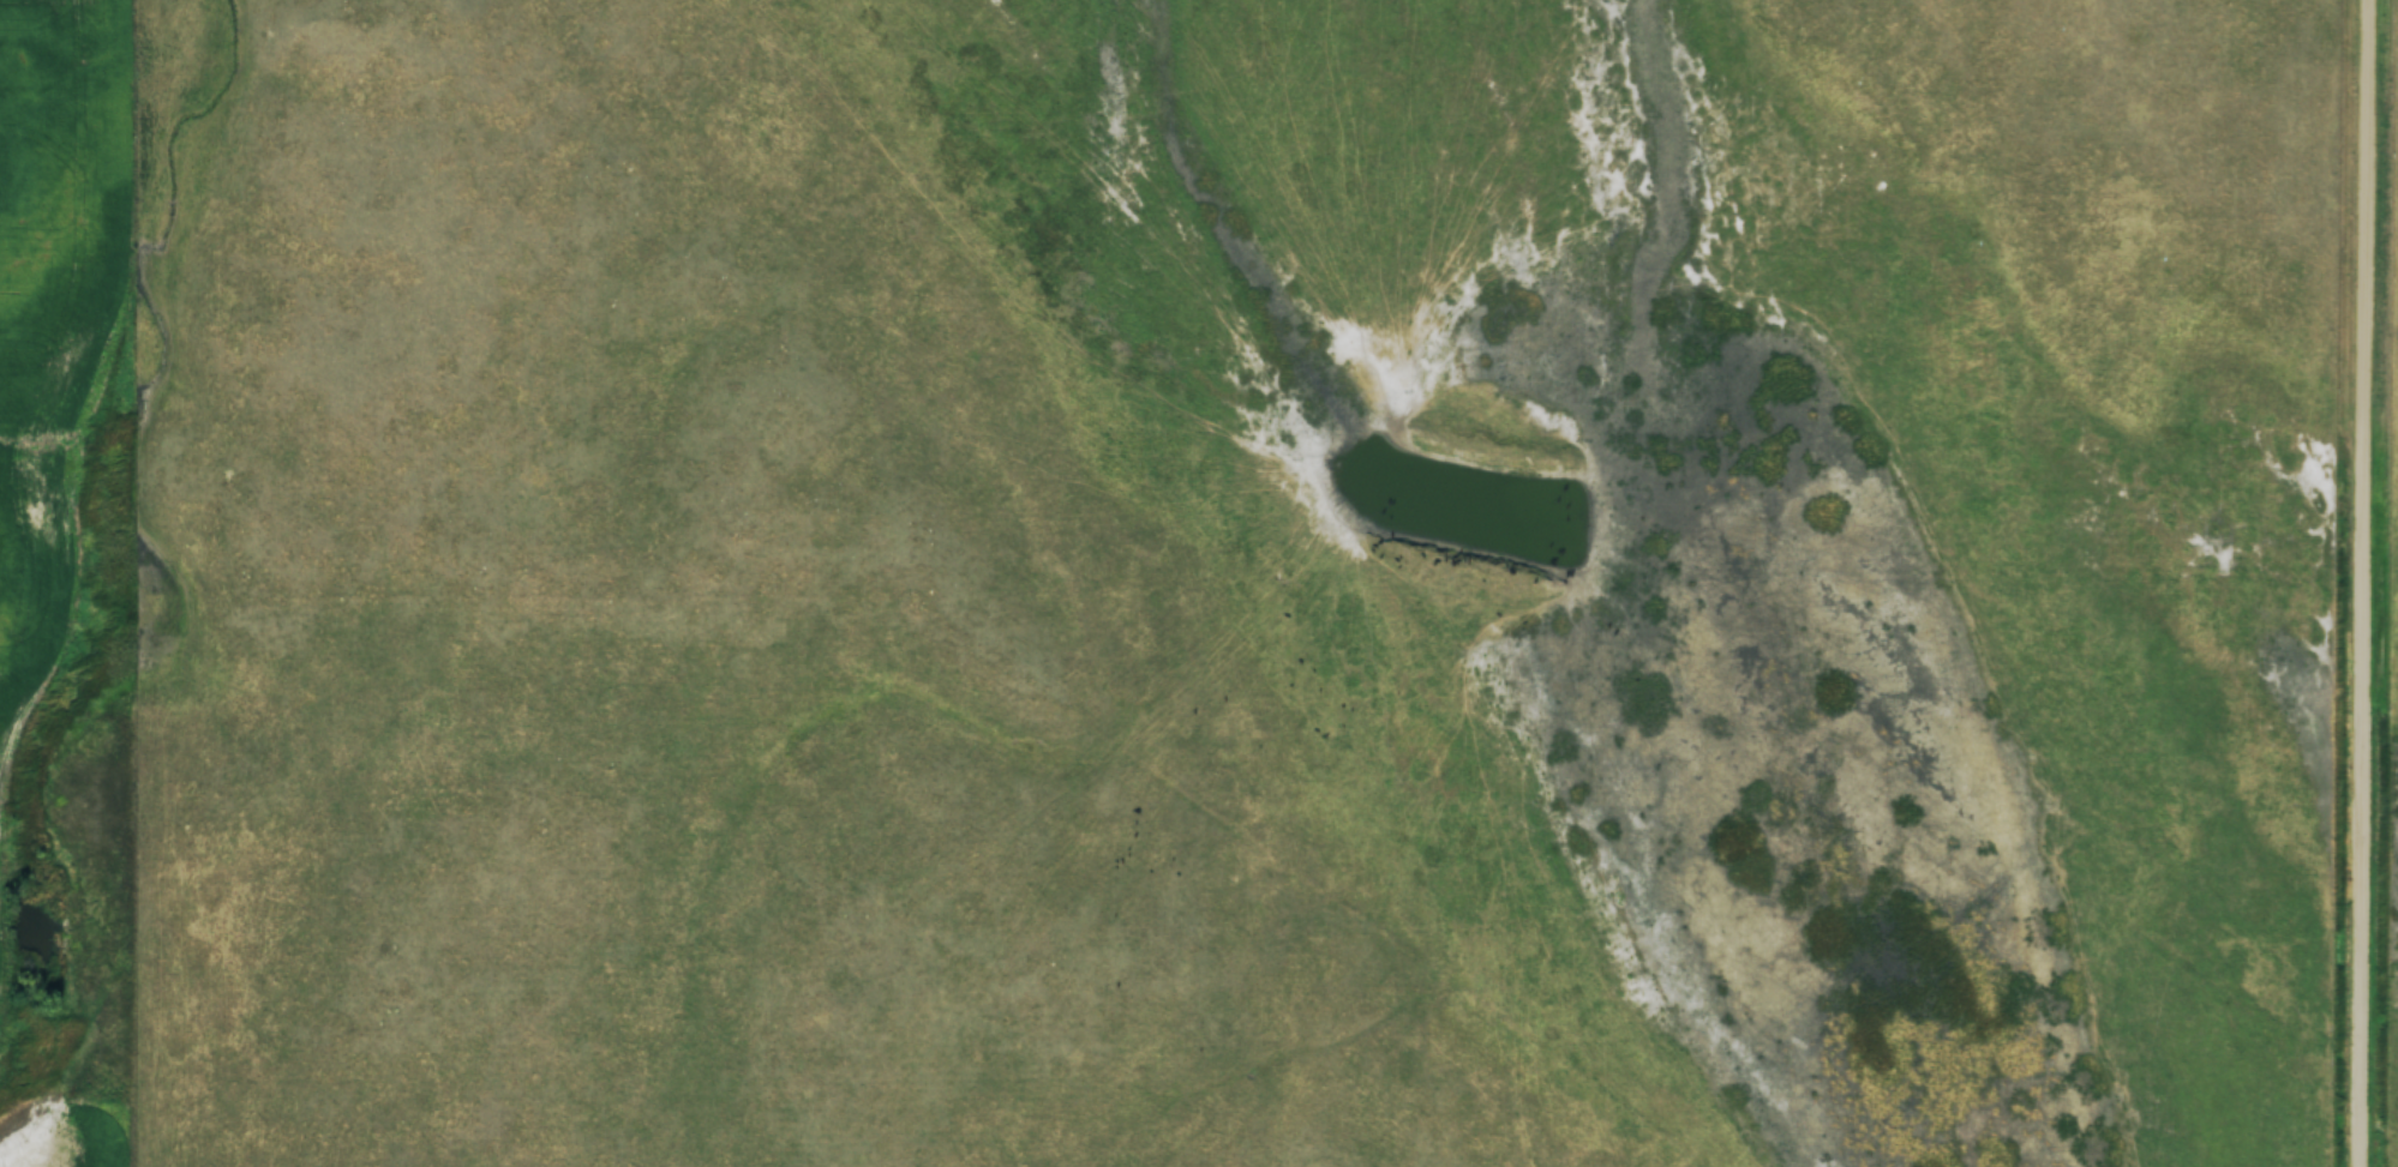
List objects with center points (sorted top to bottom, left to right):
road: (2366, 583)

